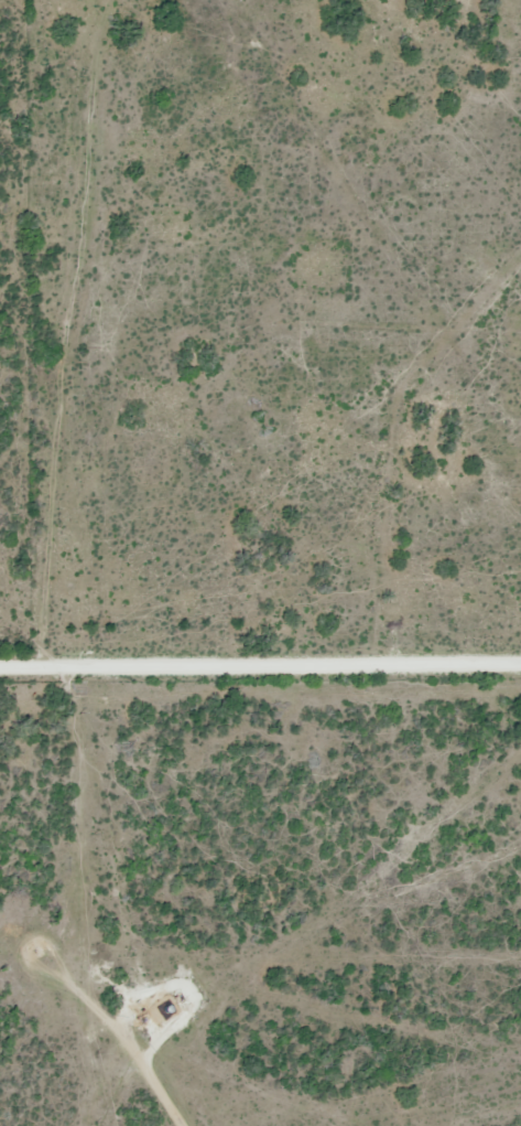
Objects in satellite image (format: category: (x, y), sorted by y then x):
road: (13, 328)
road: (260, 671)

